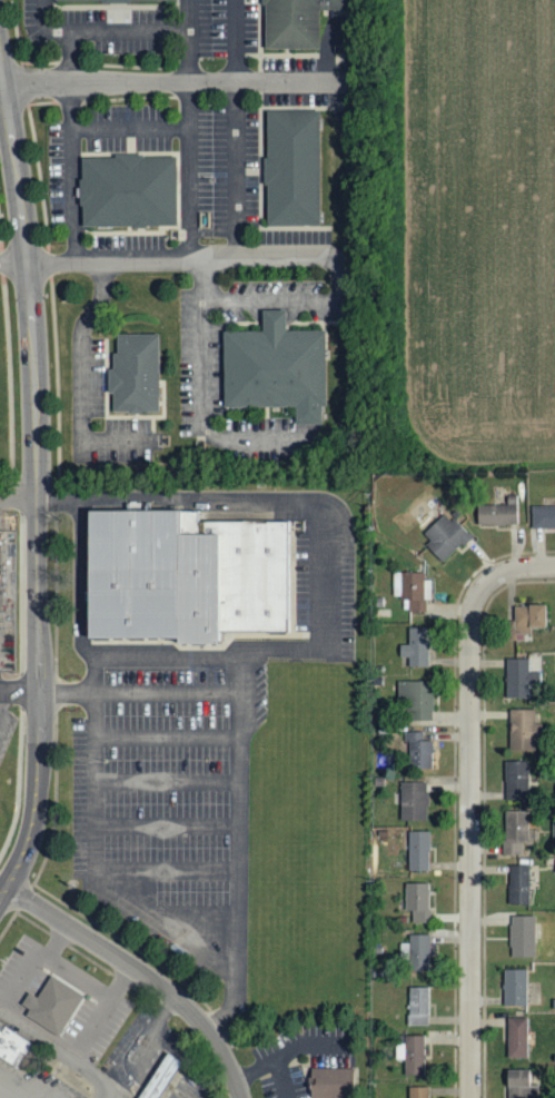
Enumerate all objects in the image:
building: (112, 0)
building: (294, 21)
road: (83, 28)
road: (157, 28)
road: (247, 41)
road: (201, 56)
road: (171, 82)
road: (142, 126)
building: (291, 166)
road: (83, 172)
road: (201, 172)
road: (246, 172)
building: (143, 190)
road: (169, 263)
road: (289, 299)
road: (212, 342)
road: (92, 350)
building: (286, 367)
building: (139, 372)
road: (8, 375)
road: (36, 481)
road: (209, 496)
road: (17, 497)
building: (496, 515)
building: (543, 516)
building: (444, 537)
road: (82, 555)
road: (517, 565)
building: (187, 573)
road: (326, 580)
building: (412, 591)
building: (525, 621)
road: (279, 647)
building: (416, 647)
road: (136, 656)
road: (24, 679)
building: (518, 679)
road: (18, 688)
road: (1, 691)
road: (167, 691)
building: (415, 700)
parking lot: (8, 721)
building: (523, 730)
road: (166, 736)
building: (418, 752)
parking lot: (197, 762)
road: (166, 780)
building: (516, 780)
building: (413, 802)
road: (166, 823)
building: (514, 832)
road: (469, 838)
building: (418, 851)
road: (93, 861)
road: (238, 865)
road: (166, 870)
building: (518, 886)
building: (417, 902)
building: (522, 936)
building: (418, 952)
road: (24, 973)
road: (143, 973)
road: (78, 978)
building: (514, 987)
building: (58, 1006)
building: (417, 1006)
road: (95, 1023)
building: (516, 1037)
road: (316, 1043)
building: (16, 1045)
road: (61, 1052)
building: (412, 1054)
road: (274, 1061)
building: (165, 1077)
building: (338, 1082)
building: (518, 1085)
road: (16, 1088)
building: (417, 1091)

